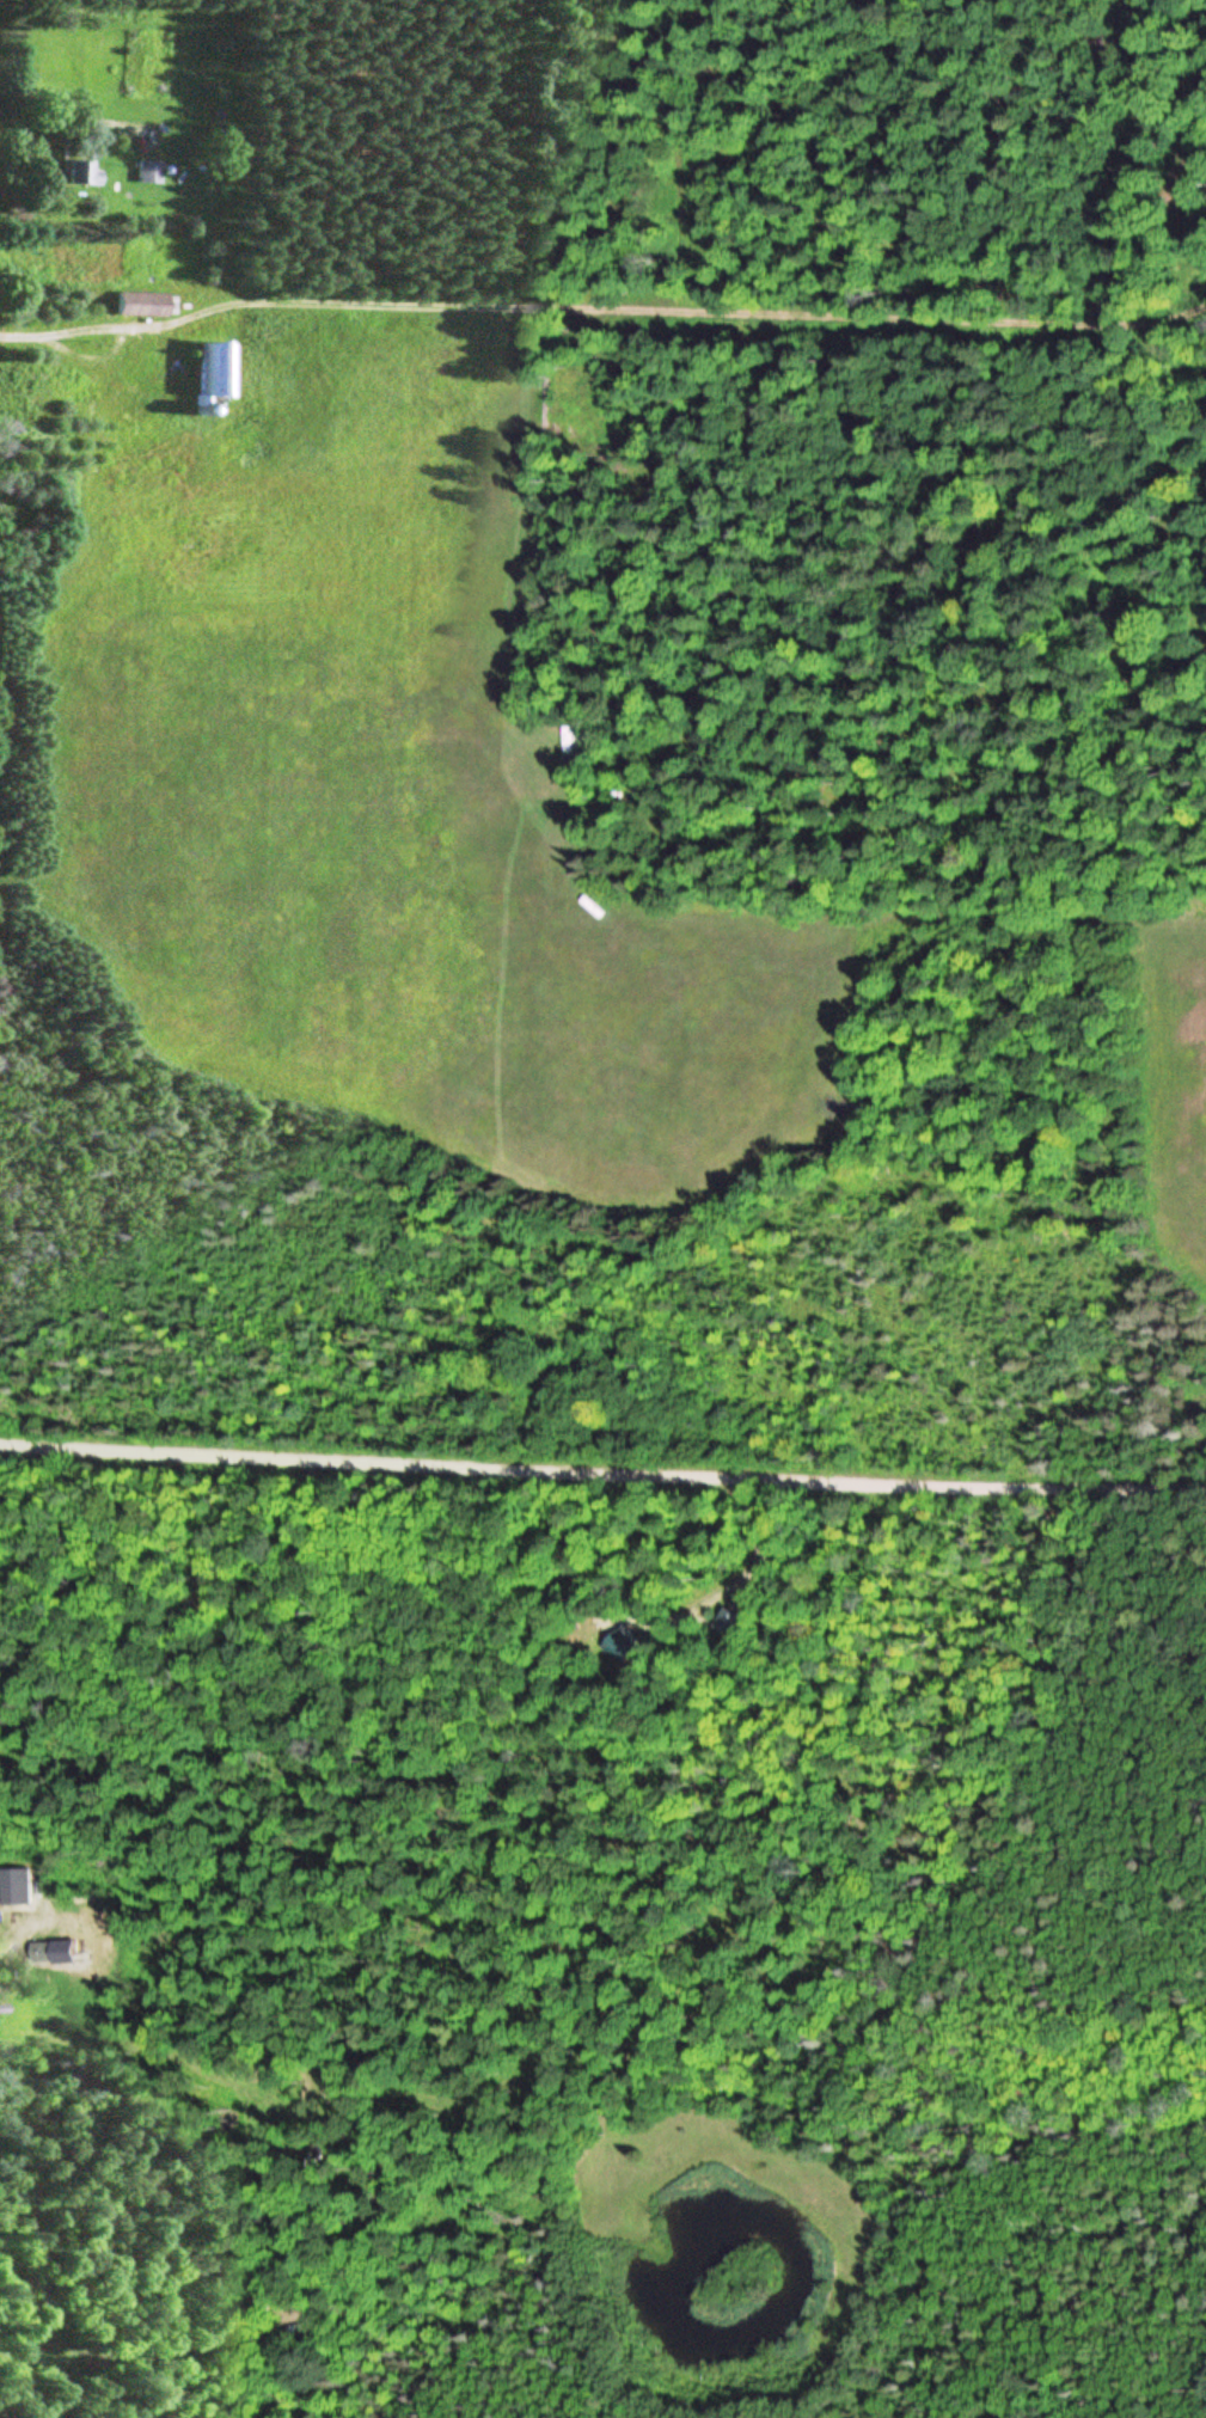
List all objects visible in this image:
road: (62, 117)
building: (147, 171)
building: (79, 172)
road: (663, 311)
road: (23, 337)
road: (118, 342)
building: (38, 382)
road: (602, 1474)
road: (10, 1938)
building: (41, 1951)

